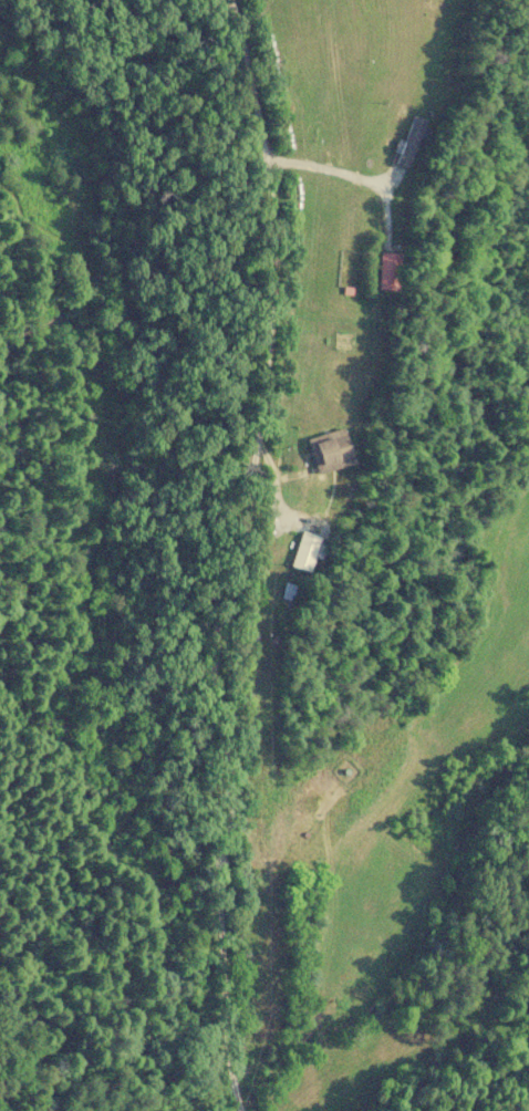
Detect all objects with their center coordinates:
building: (414, 138)
building: (391, 272)
building: (335, 453)
building: (309, 551)
road: (246, 553)

